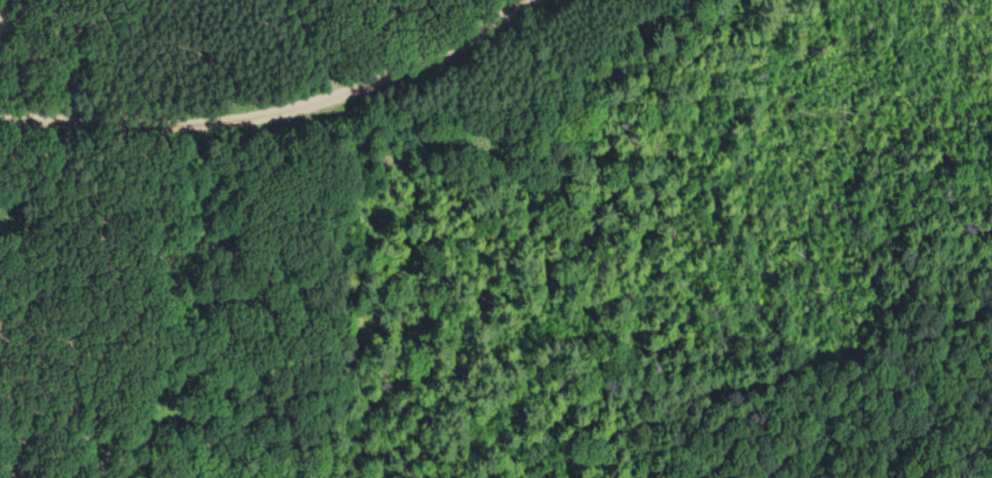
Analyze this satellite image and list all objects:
road: (256, 101)

